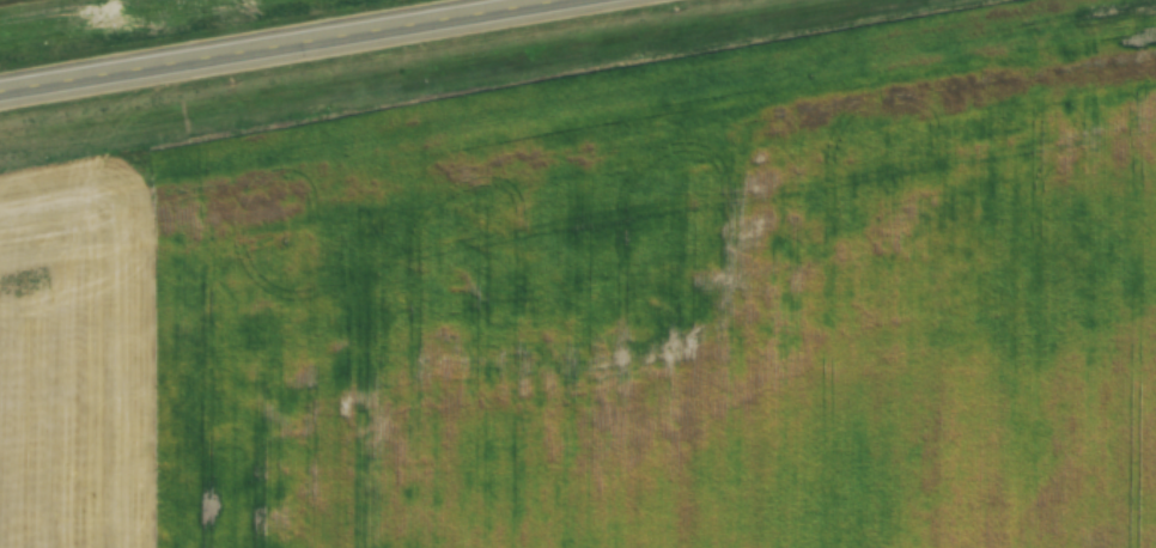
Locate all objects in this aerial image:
road: (274, 44)
road: (1094, 225)

